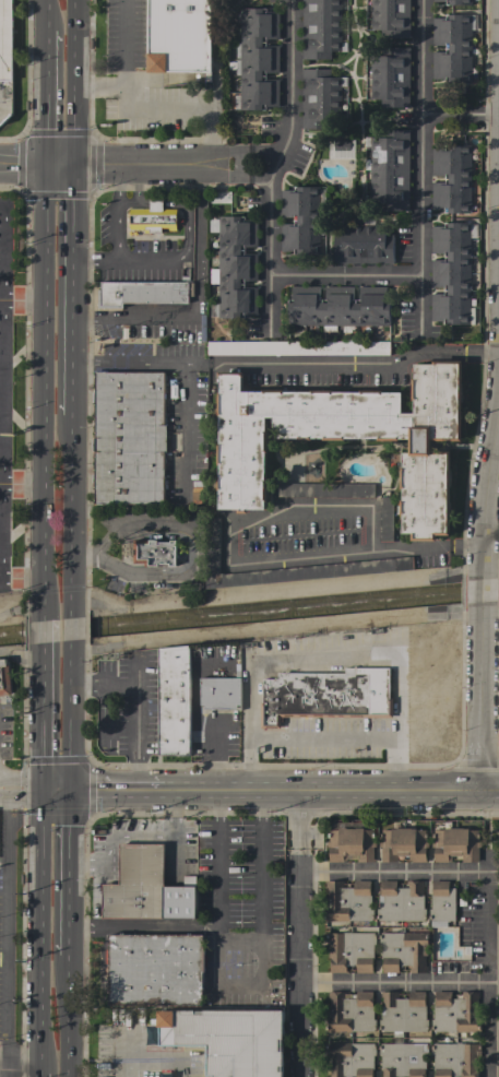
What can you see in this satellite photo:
building: (456, 2)
road: (47, 15)
building: (391, 17)
building: (321, 28)
building: (179, 36)
building: (5, 39)
building: (452, 48)
building: (258, 59)
road: (127, 69)
building: (390, 78)
road: (75, 82)
road: (47, 98)
building: (320, 98)
road: (188, 110)
road: (458, 115)
building: (341, 149)
traffic signals: (47, 165)
road: (274, 165)
traffic signals: (75, 166)
road: (136, 166)
road: (418, 166)
building: (390, 170)
building: (452, 179)
road: (116, 184)
road: (138, 184)
road: (152, 201)
road: (2, 209)
building: (152, 217)
building: (300, 220)
building: (363, 244)
road: (130, 260)
building: (236, 268)
building: (452, 274)
road: (343, 276)
road: (74, 291)
road: (23, 293)
building: (143, 294)
road: (199, 304)
building: (338, 307)
building: (298, 347)
road: (479, 353)
road: (106, 360)
road: (173, 362)
road: (336, 365)
road: (1, 391)
road: (45, 392)
road: (185, 426)
building: (346, 437)
building: (128, 438)
road: (489, 458)
road: (0, 480)
road: (23, 480)
building: (324, 490)
road: (72, 509)
road: (271, 509)
building: (385, 519)
building: (212, 540)
road: (489, 541)
road: (464, 546)
road: (192, 548)
building: (154, 552)
road: (84, 554)
road: (22, 575)
road: (274, 589)
road: (476, 595)
road: (71, 631)
building: (498, 632)
road: (44, 640)
road: (329, 656)
building: (4, 678)
building: (219, 693)
building: (379, 694)
building: (314, 696)
building: (174, 700)
road: (475, 703)
road: (131, 710)
road: (41, 725)
road: (70, 725)
road: (21, 781)
traffic signals: (40, 792)
road: (55, 792)
traffic signals: (69, 792)
road: (115, 792)
road: (330, 792)
road: (21, 798)
road: (300, 820)
building: (351, 844)
building: (403, 844)
building: (455, 844)
road: (68, 872)
road: (393, 873)
building: (146, 887)
building: (347, 901)
building: (401, 901)
building: (441, 904)
road: (144, 925)
road: (8, 930)
road: (38, 933)
road: (239, 940)
building: (351, 951)
building: (403, 951)
road: (299, 963)
road: (486, 967)
building: (155, 969)
road: (258, 983)
road: (392, 984)
building: (403, 1011)
building: (349, 1013)
building: (455, 1013)
road: (67, 1015)
building: (229, 1039)
road: (121, 1052)
building: (351, 1058)
building: (403, 1060)
building: (455, 1060)
road: (19, 1061)
road: (157, 1061)
road: (164, 1067)
road: (7, 1068)
road: (163, 1075)
road: (38, 1076)

